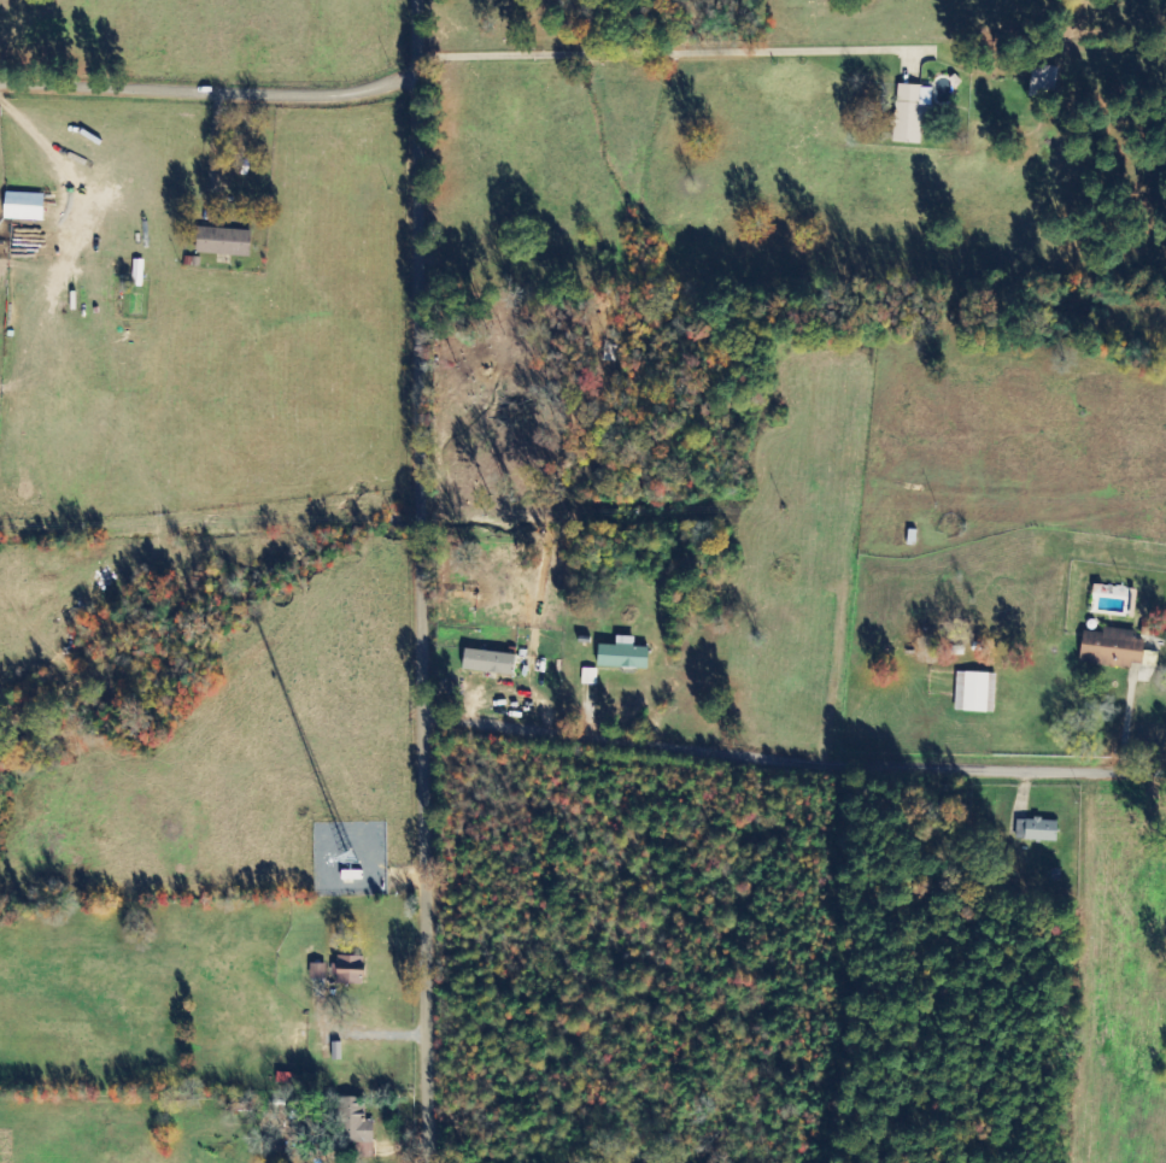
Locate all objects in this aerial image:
building: (1043, 82)
road: (215, 94)
building: (912, 113)
building: (24, 206)
building: (224, 242)
road: (434, 581)
building: (1117, 650)
building: (623, 656)
building: (490, 663)
building: (590, 677)
building: (975, 693)
road: (798, 760)
building: (1037, 829)
building: (351, 969)
building: (358, 1127)

